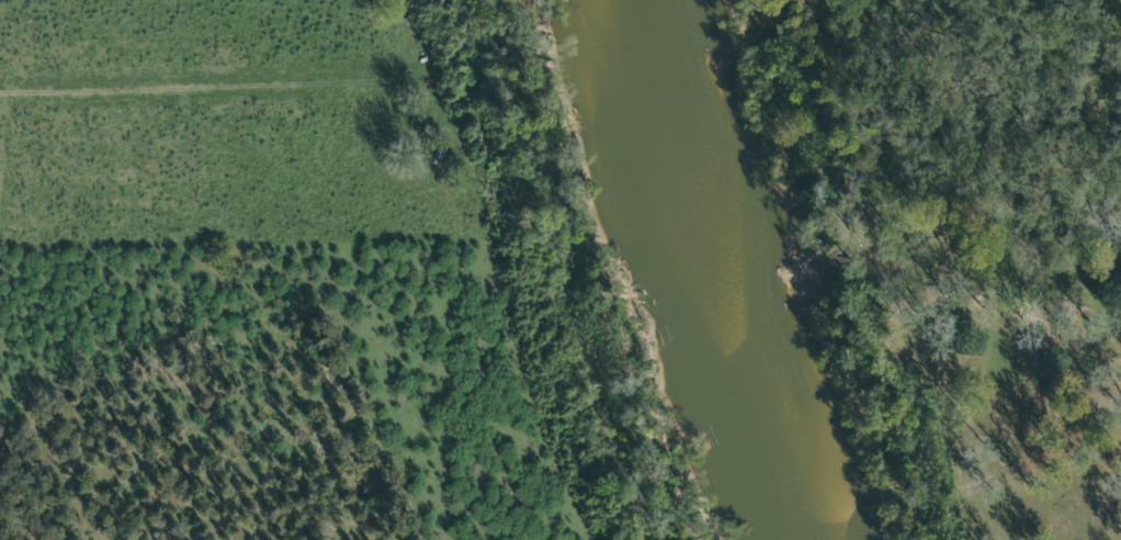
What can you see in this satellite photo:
river: (733, 269)

